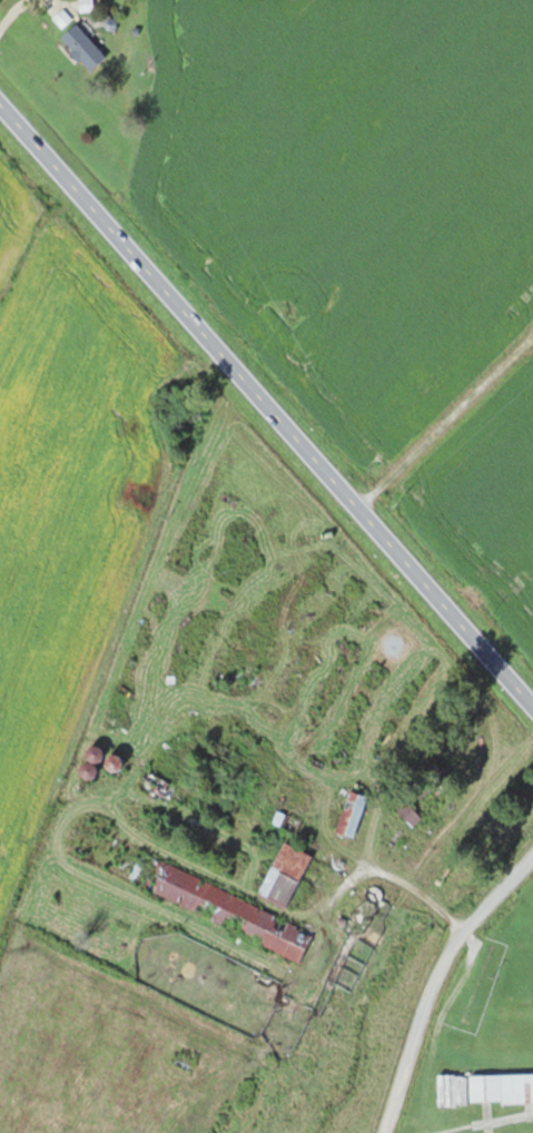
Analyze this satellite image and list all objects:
building: (82, 46)
road: (267, 402)
building: (351, 814)
building: (408, 814)
building: (226, 820)
building: (285, 873)
road: (394, 876)
building: (235, 912)
road: (433, 977)
airport: (480, 1031)
building: (501, 1085)

